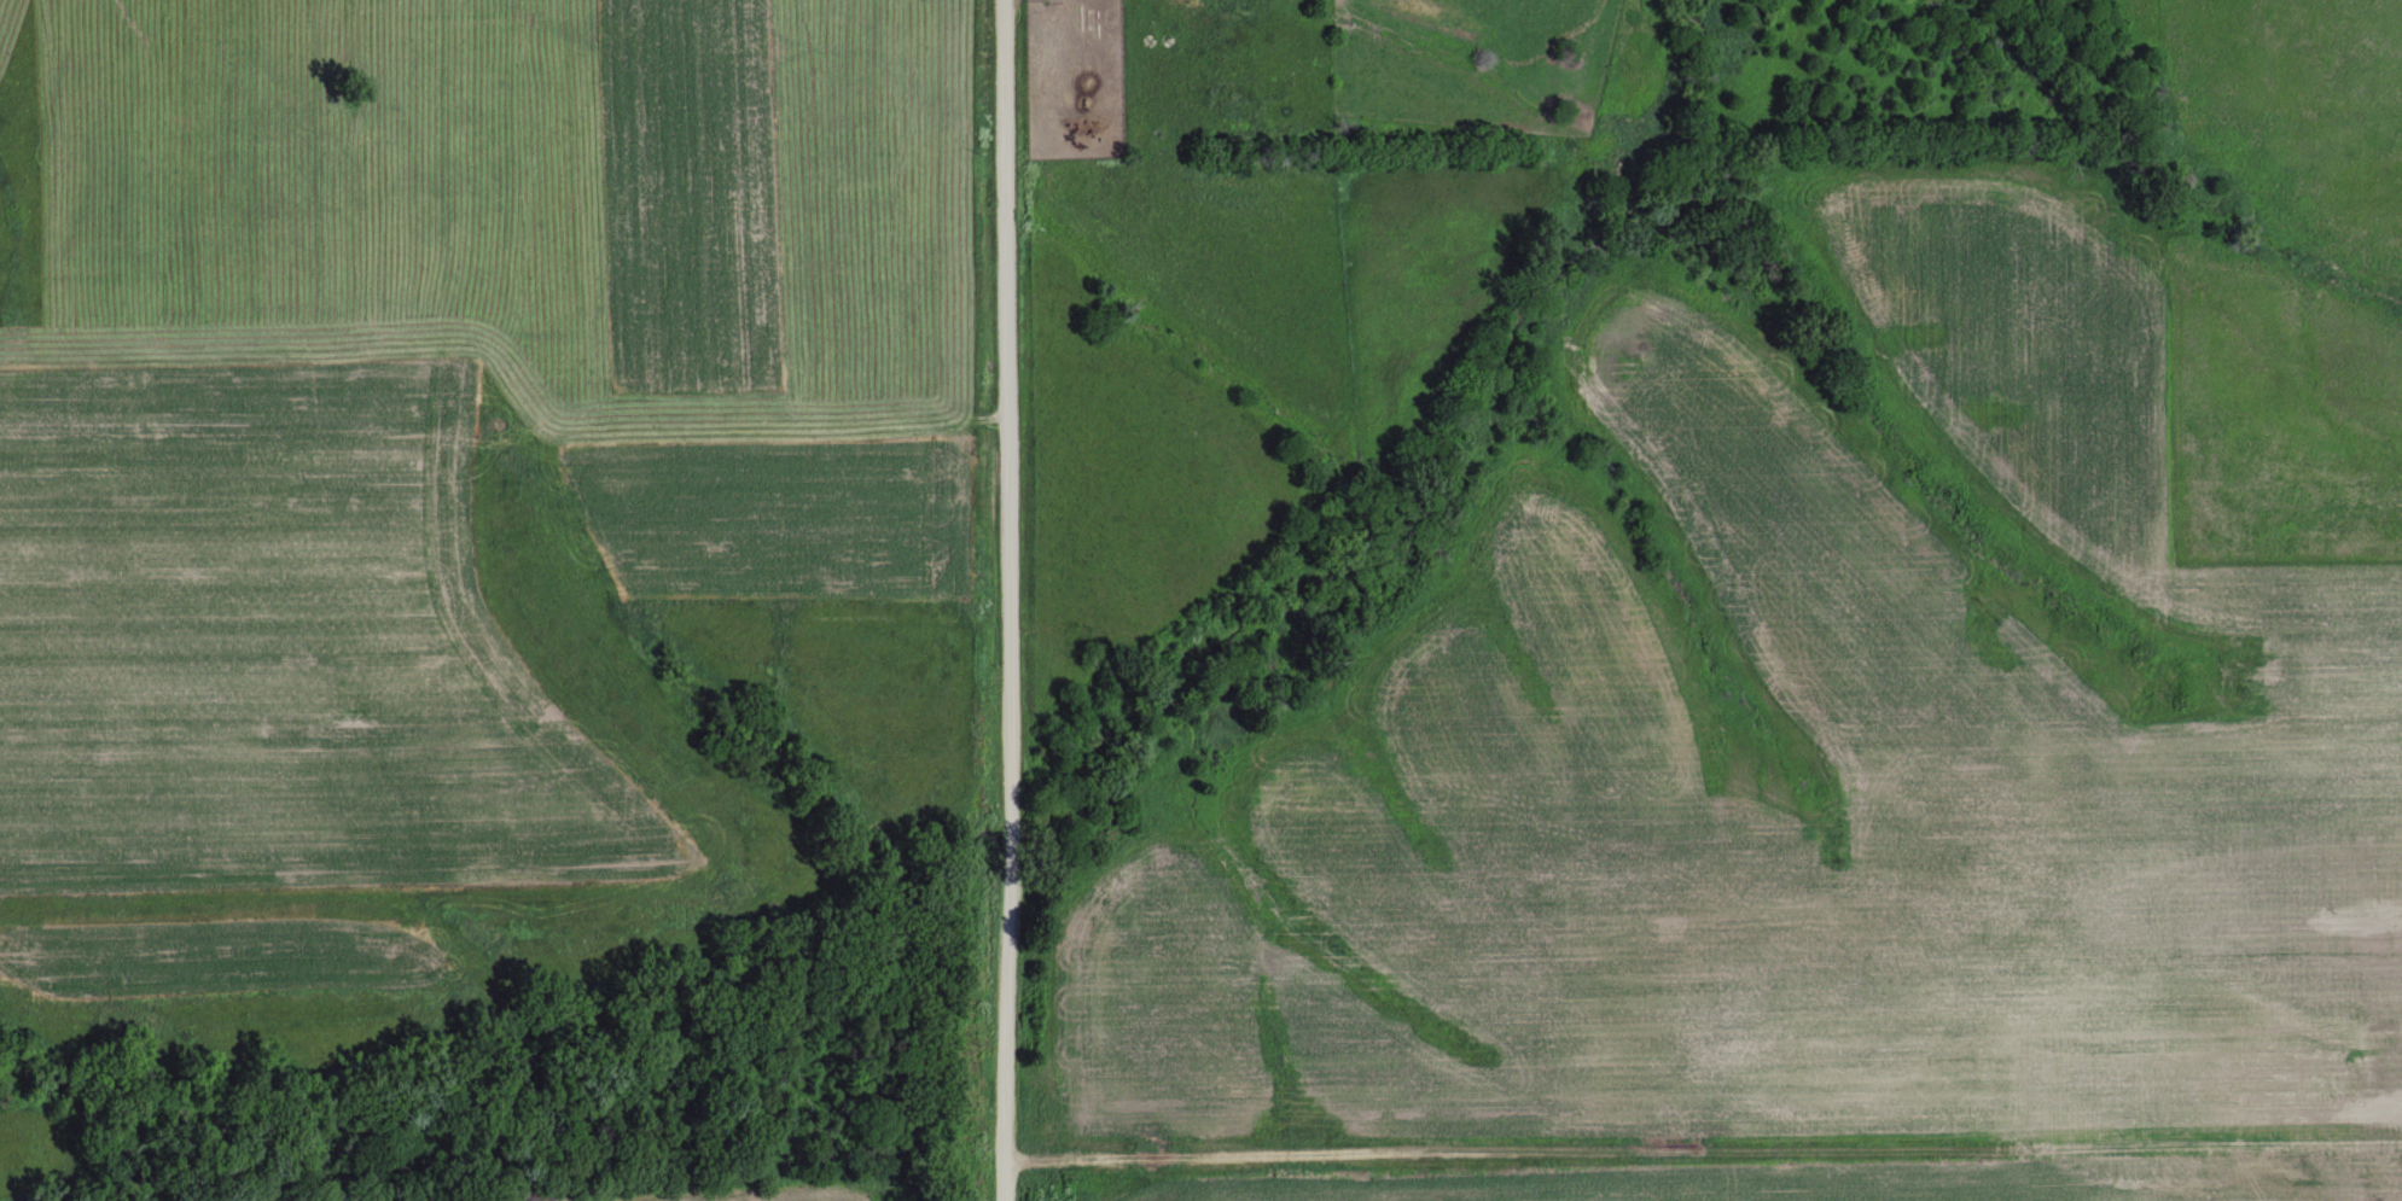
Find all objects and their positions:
road: (1006, 582)
road: (1702, 1148)
road: (1002, 1183)

